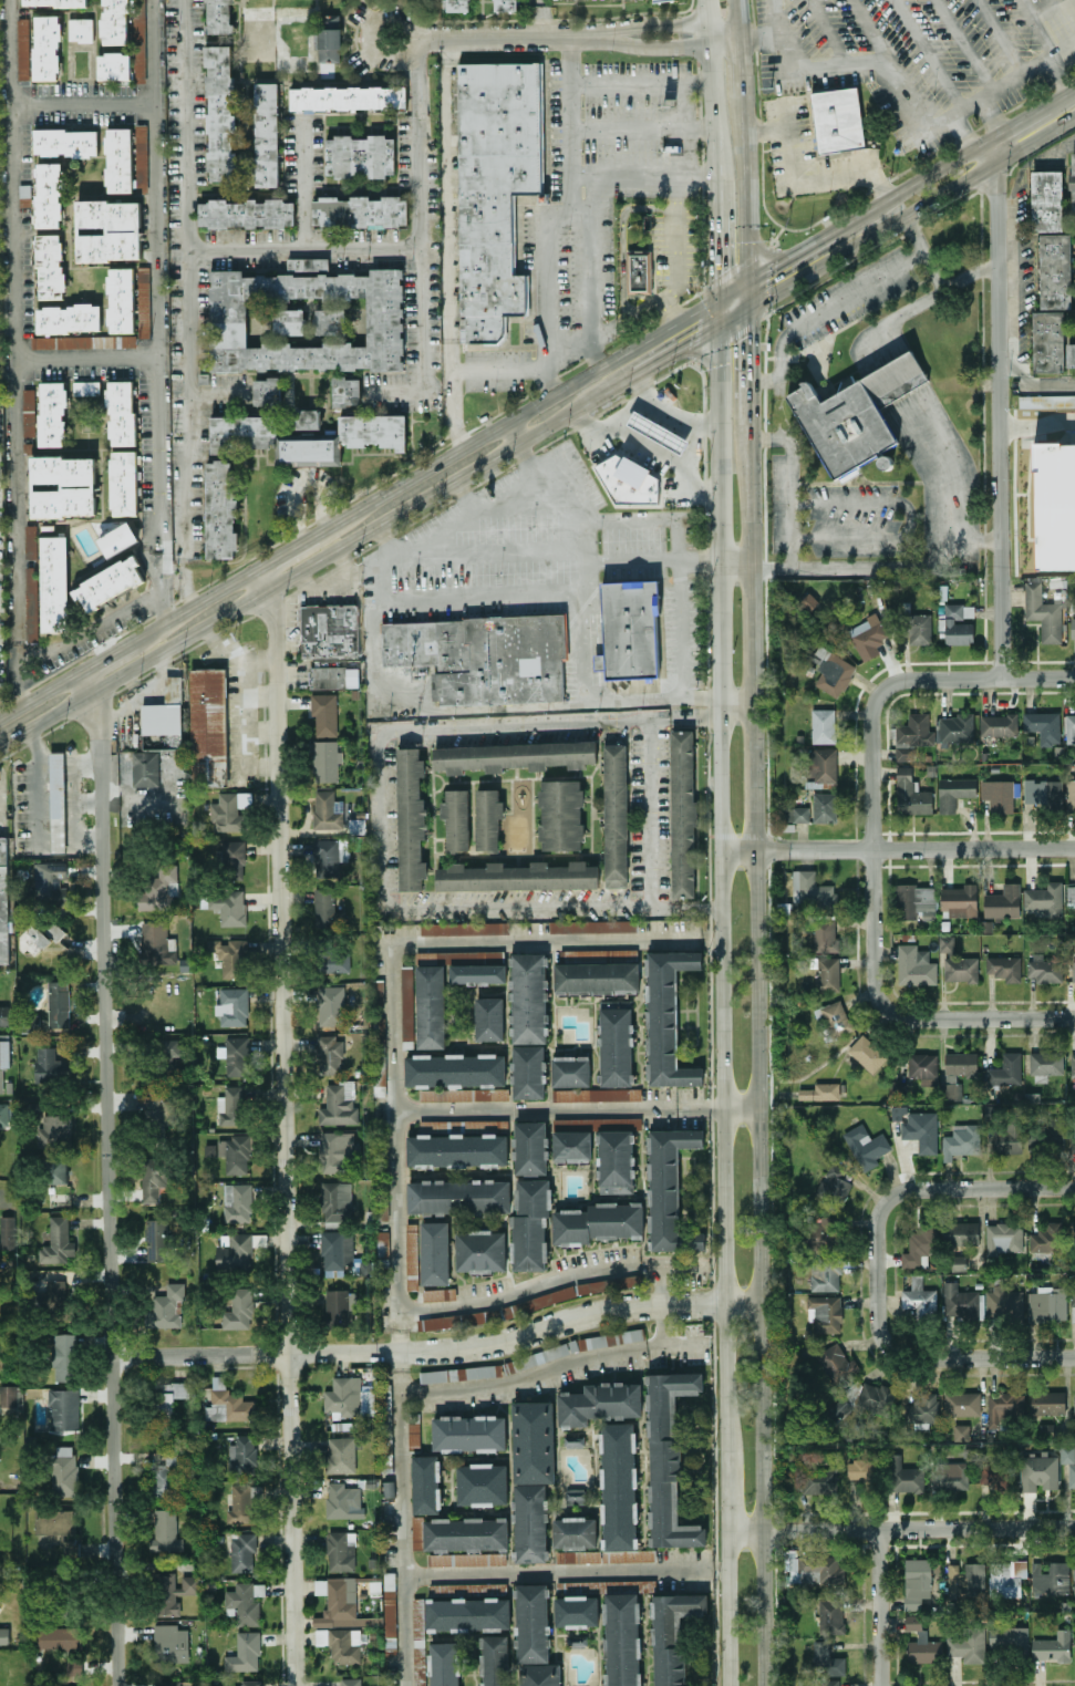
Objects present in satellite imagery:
building: (54, 2)
building: (505, 4)
building: (456, 6)
road: (1038, 7)
building: (218, 15)
road: (738, 18)
building: (329, 20)
road: (542, 20)
road: (405, 23)
building: (80, 29)
road: (1035, 29)
building: (125, 30)
road: (827, 32)
road: (759, 34)
road: (778, 34)
road: (999, 37)
road: (576, 39)
road: (962, 45)
building: (46, 46)
building: (328, 46)
road: (1061, 46)
building: (22, 48)
road: (924, 53)
road: (885, 64)
building: (113, 65)
road: (742, 65)
road: (833, 65)
road: (1060, 73)
road: (1012, 77)
road: (639, 82)
building: (348, 97)
road: (968, 102)
road: (714, 105)
road: (84, 106)
road: (1034, 108)
road: (953, 110)
building: (219, 112)
road: (984, 115)
building: (835, 120)
road: (933, 122)
road: (186, 125)
road: (566, 127)
road: (640, 127)
road: (765, 127)
road: (684, 130)
road: (960, 130)
building: (266, 134)
road: (988, 136)
road: (1034, 136)
building: (65, 142)
road: (417, 143)
road: (976, 143)
road: (988, 149)
road: (1054, 152)
building: (360, 155)
building: (141, 157)
building: (118, 159)
road: (793, 175)
road: (916, 177)
road: (642, 179)
building: (1073, 182)
road: (874, 183)
road: (302, 184)
road: (746, 186)
building: (493, 190)
building: (48, 195)
building: (1046, 200)
road: (1006, 209)
building: (360, 211)
building: (246, 213)
road: (551, 216)
building: (107, 230)
road: (870, 231)
road: (620, 239)
road: (448, 244)
road: (804, 244)
road: (923, 249)
road: (1009, 251)
road: (720, 252)
traffic signals: (774, 262)
building: (304, 263)
building: (49, 266)
road: (1021, 271)
traffic signals: (721, 272)
building: (637, 273)
road: (1009, 285)
road: (734, 286)
road: (747, 291)
building: (120, 299)
building: (1052, 302)
road: (665, 307)
road: (157, 310)
road: (734, 312)
road: (188, 313)
building: (68, 318)
building: (307, 320)
road: (613, 322)
road: (1009, 330)
traffic signals: (748, 338)
building: (83, 341)
traffic signals: (688, 341)
road: (420, 343)
road: (13, 351)
building: (1071, 355)
road: (86, 359)
road: (747, 360)
road: (653, 361)
road: (1010, 364)
road: (778, 370)
road: (891, 371)
road: (763, 381)
building: (892, 381)
road: (1045, 381)
building: (85, 387)
building: (267, 390)
building: (345, 391)
road: (218, 396)
building: (1046, 401)
road: (521, 411)
building: (28, 412)
building: (121, 412)
building: (51, 413)
road: (623, 413)
building: (307, 418)
road: (998, 418)
road: (681, 420)
road: (1036, 422)
building: (839, 425)
road: (515, 430)
building: (658, 431)
road: (766, 436)
building: (345, 438)
road: (693, 445)
road: (665, 456)
building: (882, 459)
road: (299, 475)
building: (630, 482)
building: (123, 483)
building: (63, 486)
road: (468, 498)
building: (1054, 505)
building: (219, 509)
road: (480, 516)
road: (630, 518)
road: (910, 518)
road: (979, 537)
building: (117, 538)
building: (30, 541)
road: (342, 547)
road: (287, 548)
road: (485, 551)
road: (580, 559)
road: (650, 560)
road: (736, 562)
road: (862, 567)
road: (261, 580)
building: (108, 583)
building: (46, 589)
road: (486, 592)
road: (201, 597)
road: (681, 607)
building: (1043, 611)
road: (752, 620)
building: (957, 624)
building: (1072, 625)
building: (916, 627)
building: (627, 630)
road: (89, 633)
building: (325, 634)
building: (867, 635)
road: (116, 648)
building: (480, 656)
building: (831, 671)
road: (875, 673)
building: (324, 679)
road: (90, 681)
road: (897, 681)
road: (40, 692)
road: (899, 694)
road: (737, 703)
road: (462, 708)
building: (323, 713)
road: (706, 718)
road: (49, 720)
building: (823, 724)
building: (998, 724)
building: (1043, 725)
building: (1069, 726)
building: (954, 727)
building: (158, 728)
building: (205, 730)
building: (911, 735)
building: (514, 756)
building: (325, 759)
building: (145, 768)
road: (39, 784)
building: (954, 792)
building: (910, 793)
building: (1043, 793)
building: (998, 794)
building: (1069, 794)
road: (0, 795)
building: (54, 801)
building: (824, 806)
building: (229, 810)
building: (329, 810)
building: (683, 813)
building: (794, 813)
building: (560, 814)
road: (650, 814)
building: (616, 815)
road: (380, 817)
building: (411, 819)
building: (456, 819)
building: (487, 819)
building: (356, 826)
road: (890, 830)
road: (754, 838)
road: (768, 842)
road: (898, 848)
road: (722, 852)
building: (329, 855)
building: (231, 860)
building: (517, 876)
building: (50, 882)
building: (158, 888)
building: (812, 889)
building: (1071, 893)
building: (1044, 898)
building: (959, 899)
building: (914, 900)
building: (1002, 901)
building: (2, 906)
building: (228, 906)
building: (327, 909)
building: (592, 925)
building: (465, 928)
building: (53, 930)
building: (824, 933)
building: (33, 940)
building: (156, 943)
building: (328, 955)
building: (228, 956)
building: (955, 961)
building: (913, 965)
building: (1003, 966)
building: (1045, 968)
building: (1073, 970)
building: (477, 973)
building: (827, 973)
building: (596, 978)
road: (392, 983)
building: (376, 991)
building: (528, 997)
building: (58, 1003)
building: (330, 1005)
building: (232, 1006)
building: (406, 1006)
building: (430, 1006)
building: (3, 1015)
road: (899, 1015)
building: (666, 1017)
building: (489, 1018)
building: (834, 1018)
building: (614, 1046)
building: (169, 1047)
building: (4, 1051)
building: (867, 1053)
building: (329, 1054)
building: (235, 1055)
building: (378, 1056)
building: (1046, 1062)
building: (960, 1063)
building: (1073, 1064)
building: (50, 1066)
building: (923, 1067)
building: (1006, 1069)
building: (570, 1070)
building: (528, 1072)
building: (457, 1076)
building: (164, 1077)
building: (1, 1080)
building: (897, 1089)
building: (950, 1090)
building: (819, 1092)
building: (596, 1094)
building: (339, 1104)
building: (230, 1105)
road: (741, 1106)
building: (158, 1107)
road: (559, 1107)
building: (3, 1114)
building: (54, 1130)
building: (921, 1130)
building: (1053, 1131)
building: (1073, 1135)
building: (1014, 1137)
road: (285, 1138)
building: (961, 1140)
building: (571, 1146)
building: (866, 1146)
building: (529, 1147)
building: (456, 1148)
building: (335, 1150)
building: (235, 1152)
building: (614, 1161)
building: (55, 1169)
building: (153, 1177)
building: (834, 1186)
road: (947, 1187)
road: (108, 1188)
building: (669, 1190)
building: (458, 1196)
building: (237, 1201)
building: (598, 1222)
building: (530, 1225)
building: (7, 1232)
building: (820, 1232)
building: (960, 1233)
building: (1044, 1237)
building: (1003, 1238)
building: (156, 1239)
building: (58, 1241)
building: (919, 1244)
building: (382, 1248)
building: (337, 1249)
building: (234, 1251)
building: (480, 1251)
building: (434, 1252)
building: (411, 1256)
building: (959, 1262)
road: (758, 1268)
building: (825, 1273)
road: (550, 1280)
building: (609, 1283)
building: (438, 1294)
building: (55, 1295)
building: (919, 1299)
building: (960, 1303)
building: (1002, 1303)
building: (1072, 1303)
building: (1047, 1304)
building: (166, 1306)
building: (339, 1306)
building: (238, 1309)
building: (826, 1313)
road: (578, 1318)
road: (664, 1324)
road: (673, 1343)
road: (257, 1355)
building: (64, 1356)
road: (937, 1357)
building: (831, 1362)
road: (525, 1377)
building: (8, 1395)
building: (168, 1397)
building: (349, 1397)
building: (858, 1399)
building: (1046, 1401)
building: (227, 1403)
building: (599, 1403)
building: (962, 1403)
building: (1074, 1404)
building: (1003, 1406)
building: (63, 1408)
building: (922, 1409)
building: (385, 1414)
building: (413, 1429)
building: (961, 1431)
building: (468, 1432)
building: (241, 1455)
building: (340, 1455)
building: (668, 1458)
building: (1068, 1463)
building: (860, 1469)
road: (725, 1470)
building: (63, 1471)
building: (1038, 1472)
building: (167, 1475)
building: (995, 1475)
building: (531, 1476)
building: (905, 1476)
building: (949, 1476)
building: (818, 1480)
building: (426, 1483)
building: (482, 1483)
building: (618, 1486)
building: (575, 1494)
building: (342, 1500)
building: (242, 1502)
road: (402, 1520)
building: (54, 1521)
road: (900, 1529)
building: (165, 1531)
building: (575, 1532)
building: (465, 1533)
building: (68, 1540)
building: (242, 1551)
building: (340, 1551)
building: (578, 1555)
building: (459, 1559)
building: (813, 1568)
road: (564, 1570)
building: (1006, 1578)
building: (1050, 1578)
building: (1074, 1578)
building: (967, 1580)
building: (917, 1582)
building: (174, 1592)
building: (245, 1601)
building: (340, 1603)
building: (389, 1603)
road: (726, 1607)
road: (880, 1607)
building: (576, 1610)
building: (467, 1614)
building: (830, 1615)
building: (531, 1623)
building: (671, 1634)
building: (3, 1635)
building: (58, 1636)
building: (621, 1638)
building: (1009, 1638)
building: (418, 1642)
building: (921, 1642)
building: (170, 1643)
building: (341, 1643)
building: (968, 1644)
building: (390, 1645)
building: (1052, 1646)
building: (244, 1653)
building: (826, 1659)
building: (495, 1661)
building: (444, 1664)
building: (73, 1666)
building: (539, 1674)
building: (350, 1682)
building: (828, 1682)
building: (170, 1683)
building: (249, 1683)
building: (80, 1685)

